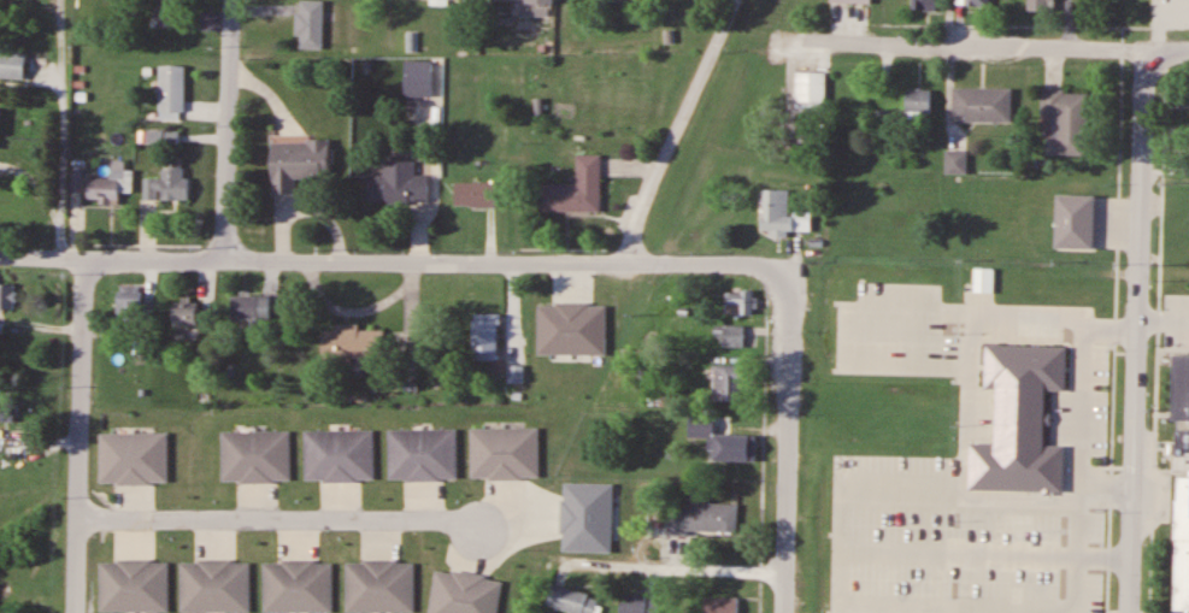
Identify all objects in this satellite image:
building: (446, 0)
road: (731, 0)
building: (850, 1)
building: (977, 2)
building: (924, 5)
building: (1041, 6)
building: (531, 7)
building: (1181, 8)
building: (169, 13)
building: (310, 25)
road: (1001, 49)
building: (12, 64)
building: (418, 83)
building: (170, 93)
building: (810, 93)
building: (918, 104)
building: (982, 106)
building: (0, 118)
building: (1066, 122)
road: (226, 135)
building: (161, 137)
building: (955, 164)
building: (298, 165)
building: (399, 184)
building: (110, 185)
building: (167, 185)
building: (576, 189)
building: (475, 195)
building: (1071, 198)
building: (777, 216)
building: (1064, 246)
road: (420, 270)
building: (6, 297)
building: (128, 303)
building: (249, 310)
road: (614, 311)
building: (184, 314)
building: (736, 317)
road: (1136, 334)
building: (484, 337)
building: (351, 346)
building: (728, 383)
building: (1, 408)
building: (859, 417)
building: (1020, 423)
road: (76, 437)
building: (722, 441)
building: (422, 454)
building: (504, 454)
building: (339, 455)
building: (255, 456)
road: (787, 472)
building: (1177, 488)
building: (699, 518)
road: (283, 521)
building: (1008, 582)
building: (134, 587)
building: (214, 587)
building: (296, 587)
building: (378, 587)
building: (464, 594)
building: (840, 594)
building: (570, 601)
building: (637, 605)
building: (725, 605)
park: (29, 608)

